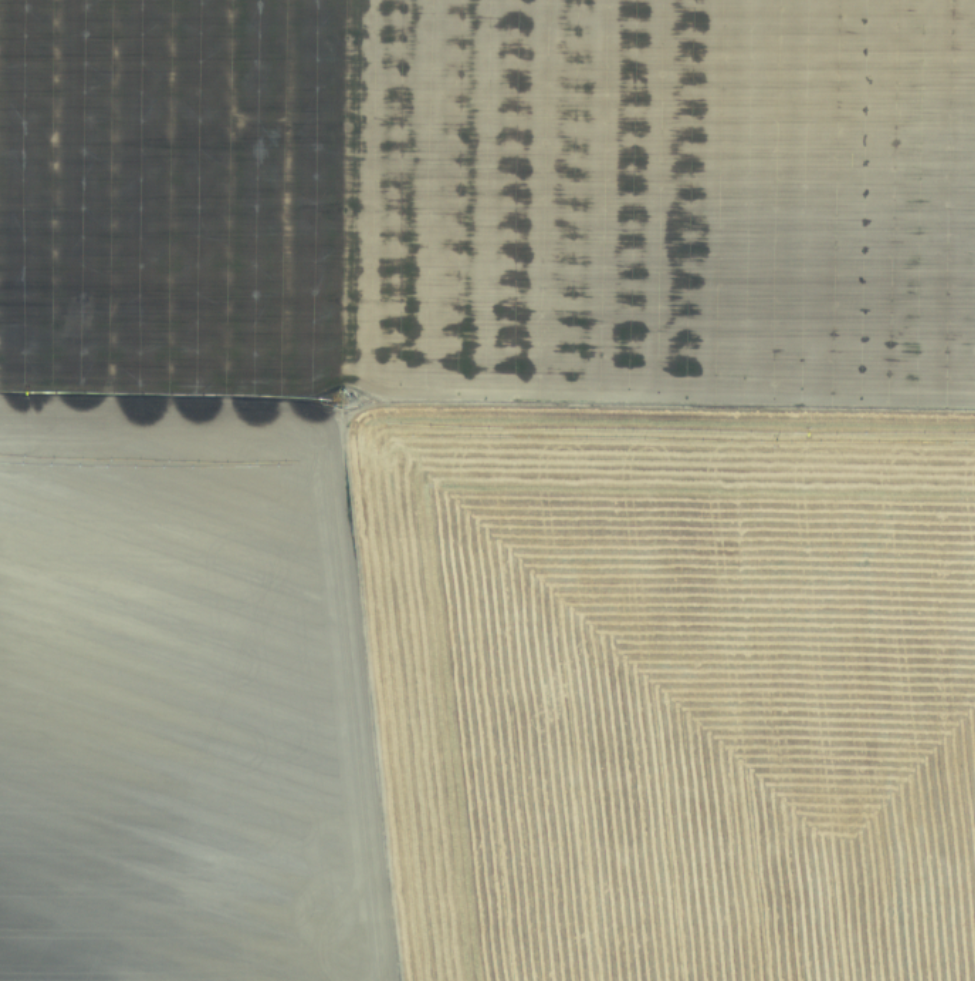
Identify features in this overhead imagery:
crop: (487, 490)

